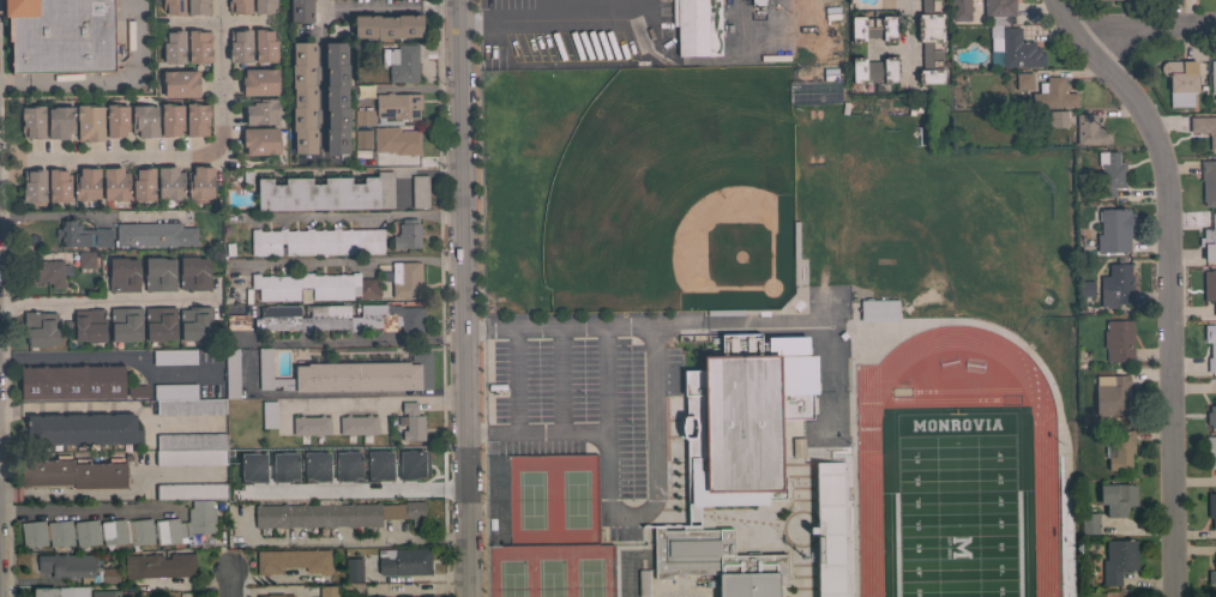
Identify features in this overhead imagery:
building: (1108, 0)
road: (438, 1)
road: (367, 2)
building: (758, 2)
building: (919, 4)
building: (239, 6)
building: (264, 6)
building: (173, 7)
building: (198, 7)
building: (300, 10)
building: (959, 10)
road: (482, 11)
building: (999, 11)
road: (217, 20)
road: (531, 20)
road: (603, 20)
road: (469, 23)
building: (387, 25)
road: (1142, 25)
building: (697, 26)
building: (872, 29)
building: (61, 35)
road: (907, 37)
building: (929, 42)
building: (240, 46)
building: (264, 46)
building: (174, 47)
building: (198, 47)
building: (1016, 49)
building: (401, 62)
building: (873, 70)
building: (830, 74)
road: (114, 77)
building: (369, 77)
building: (1212, 78)
road: (319, 79)
road: (6, 82)
building: (259, 82)
building: (1023, 82)
building: (1180, 82)
building: (180, 84)
building: (806, 95)
building: (1052, 95)
building: (336, 97)
building: (303, 98)
building: (391, 108)
building: (260, 111)
building: (171, 119)
building: (197, 119)
building: (1058, 119)
building: (116, 120)
building: (144, 120)
building: (32, 121)
building: (60, 122)
building: (89, 122)
building: (1204, 128)
building: (1090, 131)
building: (362, 138)
building: (260, 140)
building: (396, 140)
road: (187, 152)
building: (1109, 174)
building: (200, 182)
building: (1208, 182)
building: (115, 183)
building: (170, 183)
building: (86, 185)
building: (143, 185)
building: (34, 186)
building: (59, 186)
building: (158, 186)
building: (419, 191)
park: (674, 192)
building: (326, 193)
building: (401, 194)
road: (361, 213)
road: (91, 215)
building: (1115, 229)
building: (407, 234)
building: (82, 235)
building: (153, 235)
building: (1208, 239)
building: (795, 240)
building: (315, 241)
road: (353, 260)
building: (86, 261)
building: (49, 270)
building: (193, 273)
building: (122, 275)
building: (159, 275)
building: (405, 278)
road: (1164, 281)
building: (305, 285)
building: (1115, 287)
building: (1209, 287)
building: (368, 288)
building: (1085, 288)
road: (459, 297)
road: (106, 300)
building: (879, 310)
building: (726, 312)
building: (339, 318)
building: (194, 322)
building: (237, 322)
building: (125, 324)
building: (159, 324)
building: (88, 325)
building: (41, 328)
road: (486, 333)
road: (626, 333)
road: (560, 334)
building: (1118, 340)
building: (718, 345)
building: (1210, 346)
road: (323, 355)
building: (174, 356)
road: (101, 357)
building: (231, 373)
building: (350, 374)
building: (71, 381)
road: (562, 385)
road: (607, 385)
road: (513, 386)
building: (137, 391)
building: (1113, 397)
road: (372, 399)
parking lot: (584, 399)
building: (183, 400)
road: (113, 406)
building: (269, 414)
building: (1211, 415)
building: (742, 417)
road: (650, 421)
building: (411, 422)
building: (356, 424)
building: (311, 426)
building: (82, 429)
road: (561, 436)
road: (487, 438)
building: (797, 447)
building: (191, 450)
building: (1211, 450)
building: (1119, 451)
building: (409, 457)
building: (371, 463)
building: (276, 468)
building: (307, 468)
building: (342, 468)
building: (245, 469)
building: (74, 474)
track: (955, 476)
road: (353, 490)
building: (191, 492)
building: (1116, 497)
park: (952, 503)
road: (84, 508)
building: (1211, 508)
building: (1064, 512)
building: (336, 514)
building: (1089, 523)
building: (410, 526)
park: (548, 526)
park: (547, 527)
building: (121, 529)
building: (827, 530)
road: (354, 539)
road: (625, 549)
building: (1065, 553)
building: (1118, 560)
building: (293, 561)
building: (403, 561)
building: (717, 561)
building: (66, 565)
building: (159, 565)
building: (353, 569)
building: (1212, 573)
building: (107, 575)
road: (229, 584)
building: (643, 584)
building: (1066, 586)
building: (60, 591)
building: (327, 591)
building: (104, 593)
building: (275, 595)
building: (404, 596)
building: (428, 596)

